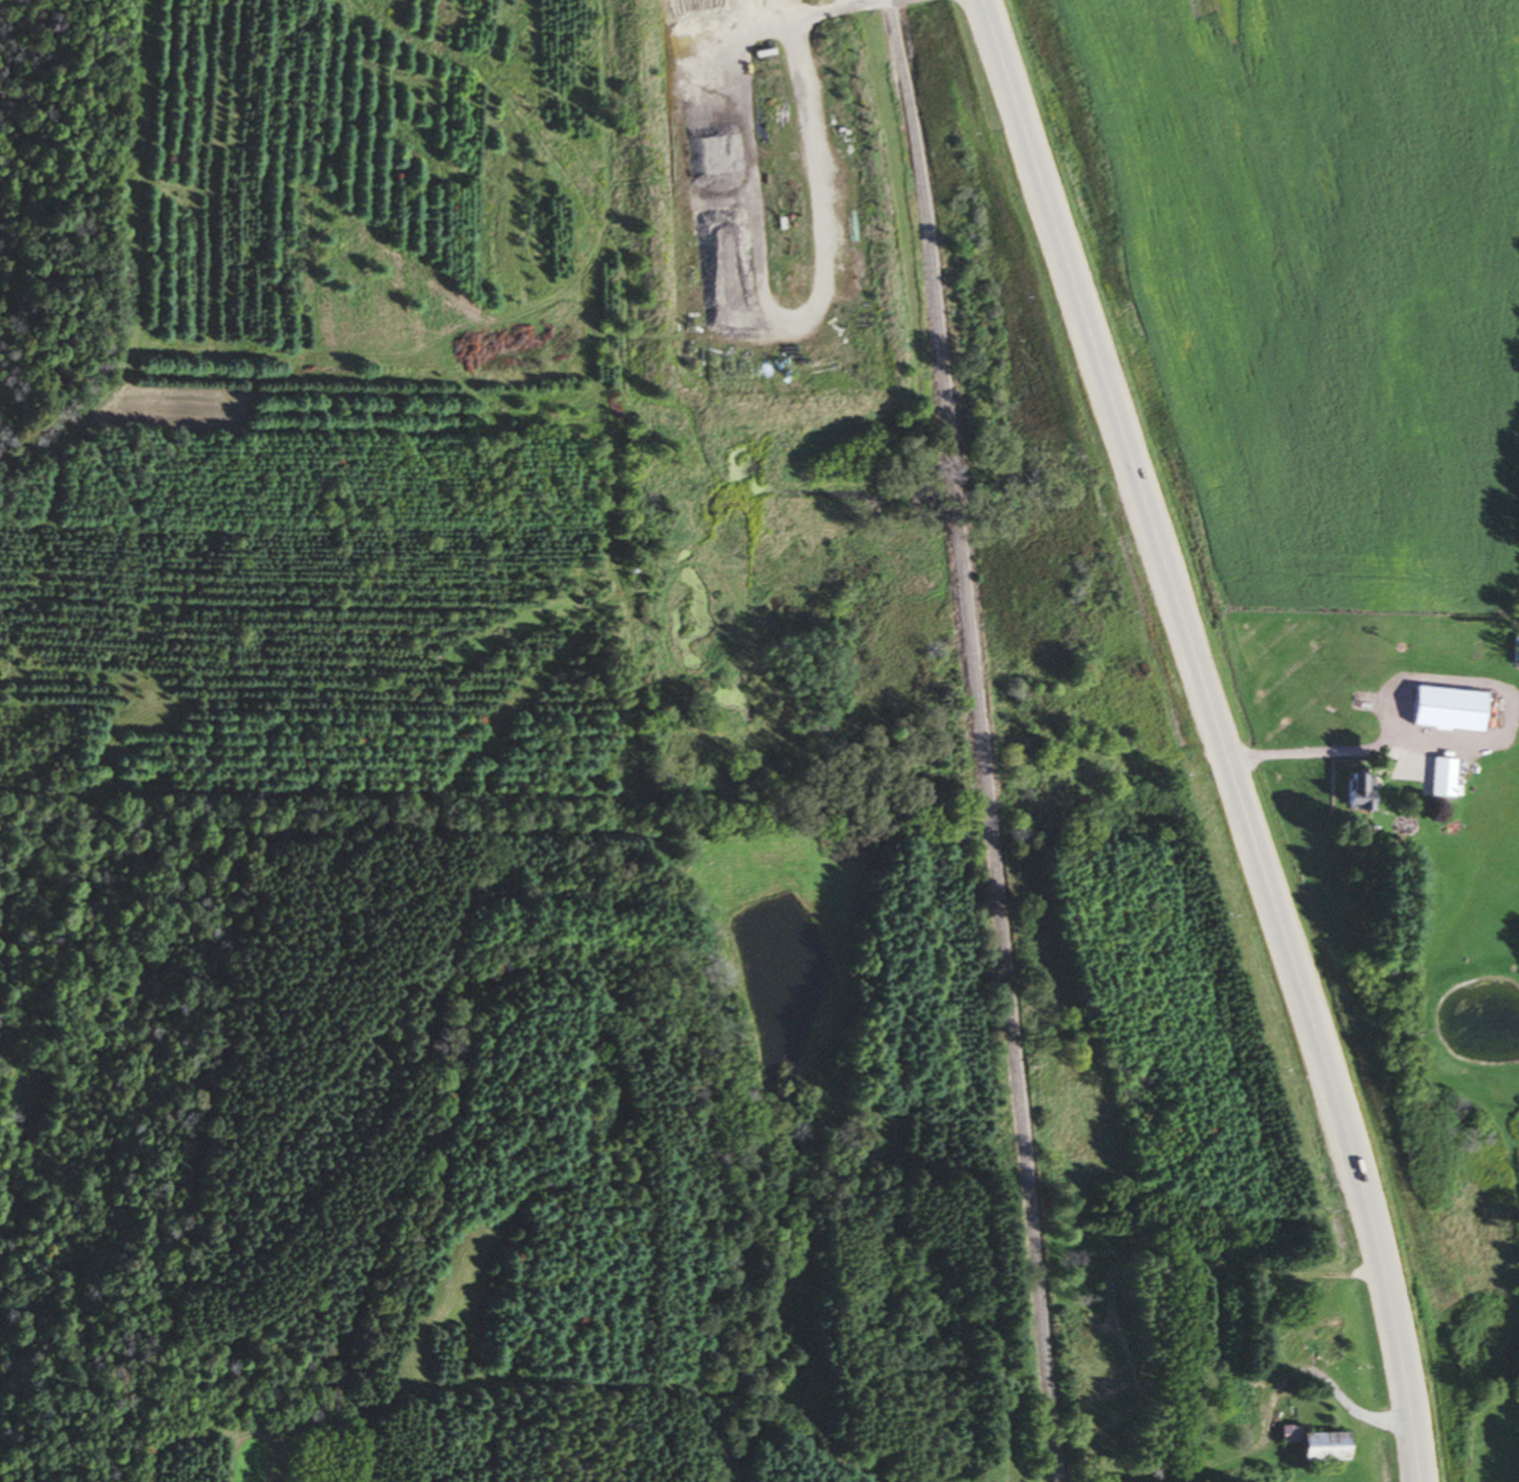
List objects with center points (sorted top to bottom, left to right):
road: (816, 17)
building: (835, 103)
building: (1442, 711)
road: (1221, 736)
railway: (982, 739)
road: (1467, 743)
building: (1440, 780)
building: (1349, 794)
road: (1193, 1258)
building: (1083, 1331)
building: (1328, 1344)
building: (1243, 1401)
building: (1119, 1409)
road: (1358, 1412)
building: (1327, 1445)

